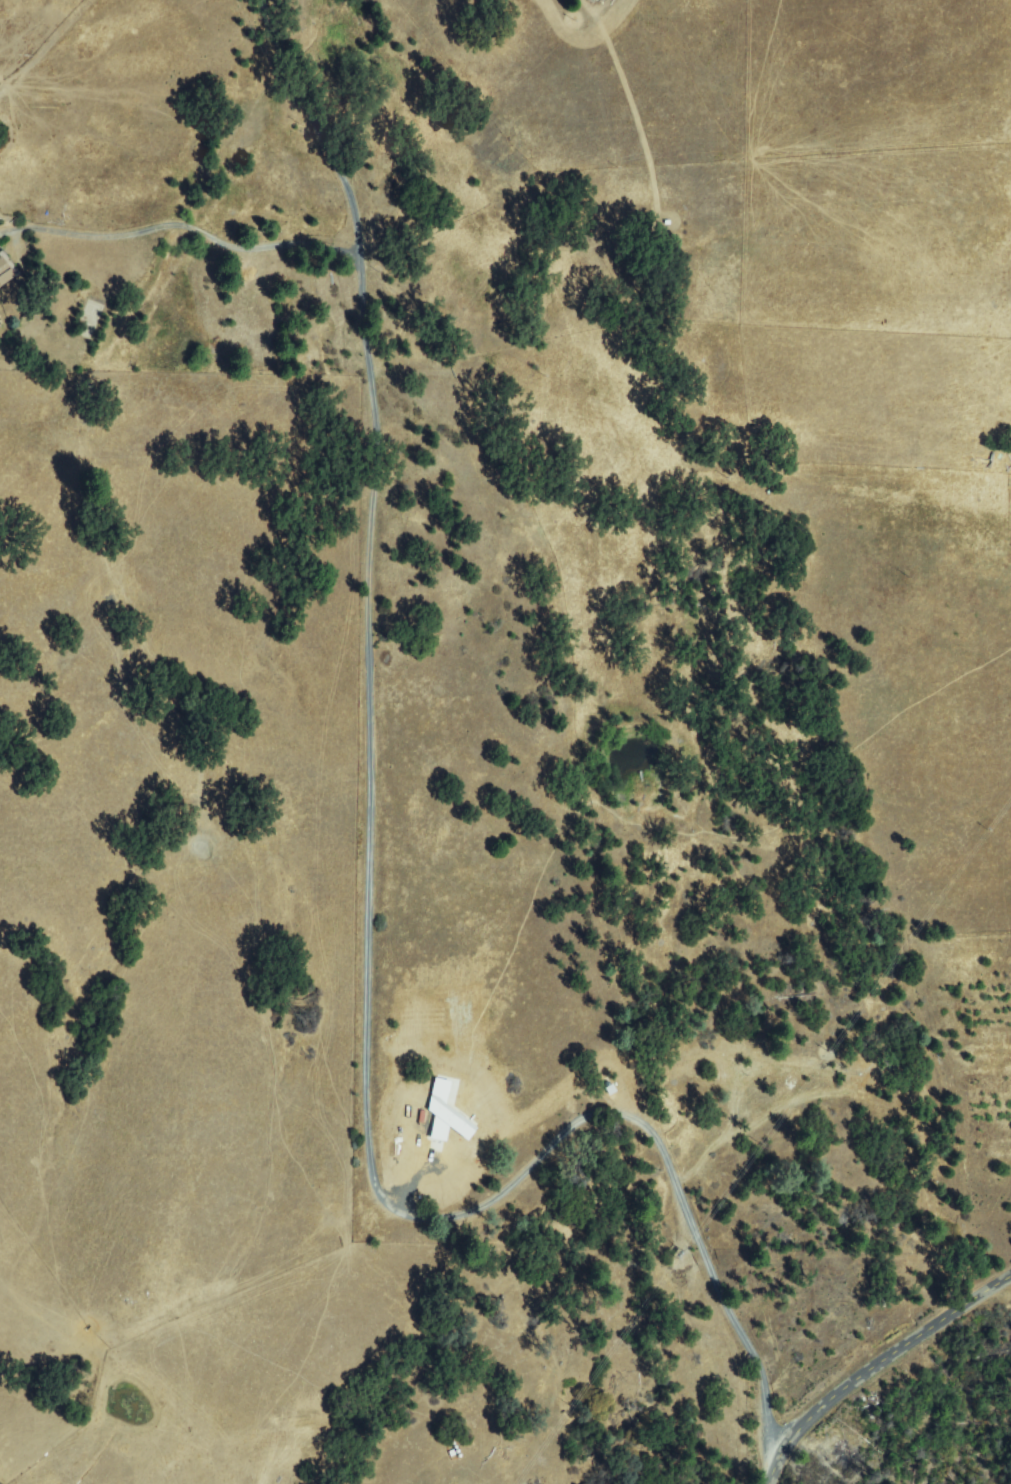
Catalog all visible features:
building: (5, 272)
road: (371, 934)
road: (874, 1362)

